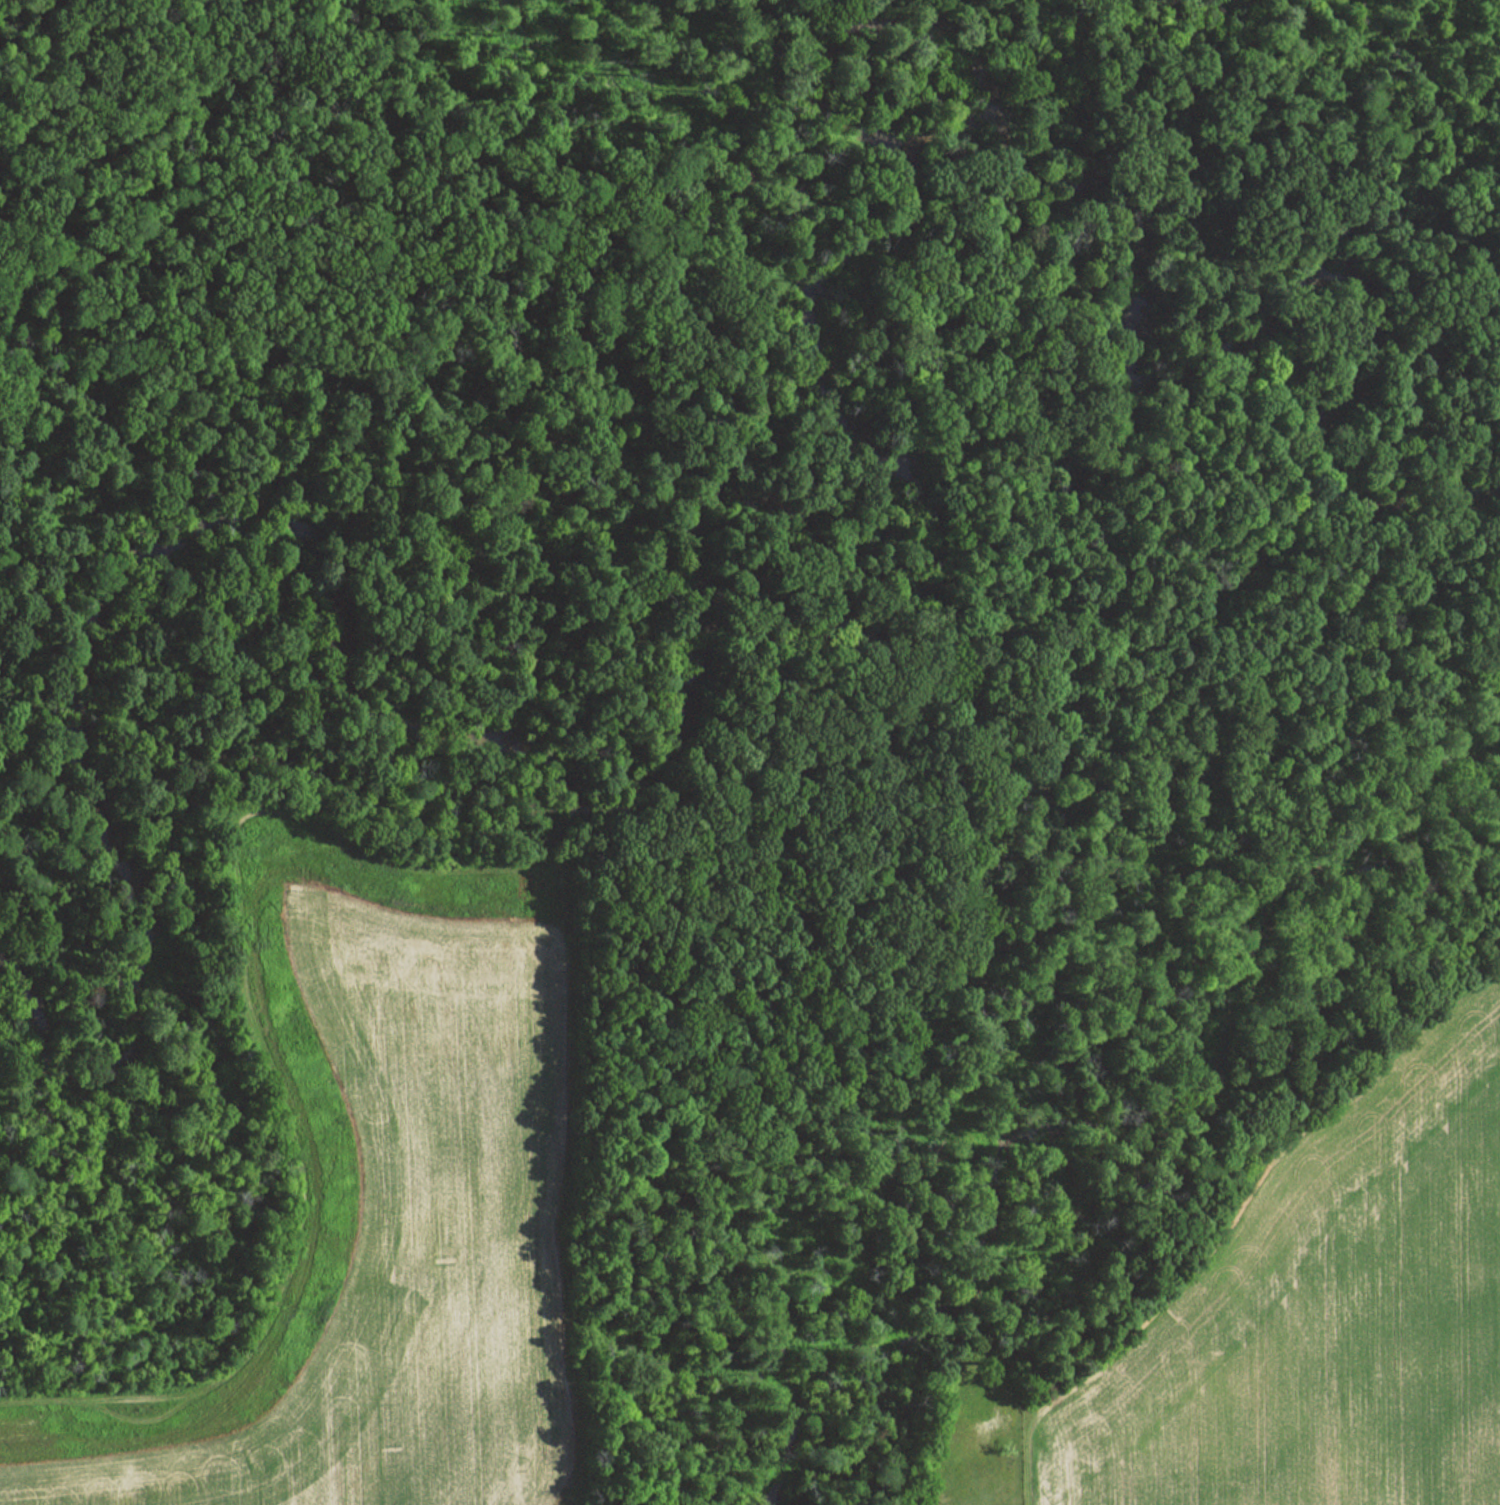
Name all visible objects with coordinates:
crop: (414, 1241)
crop: (1325, 1315)

